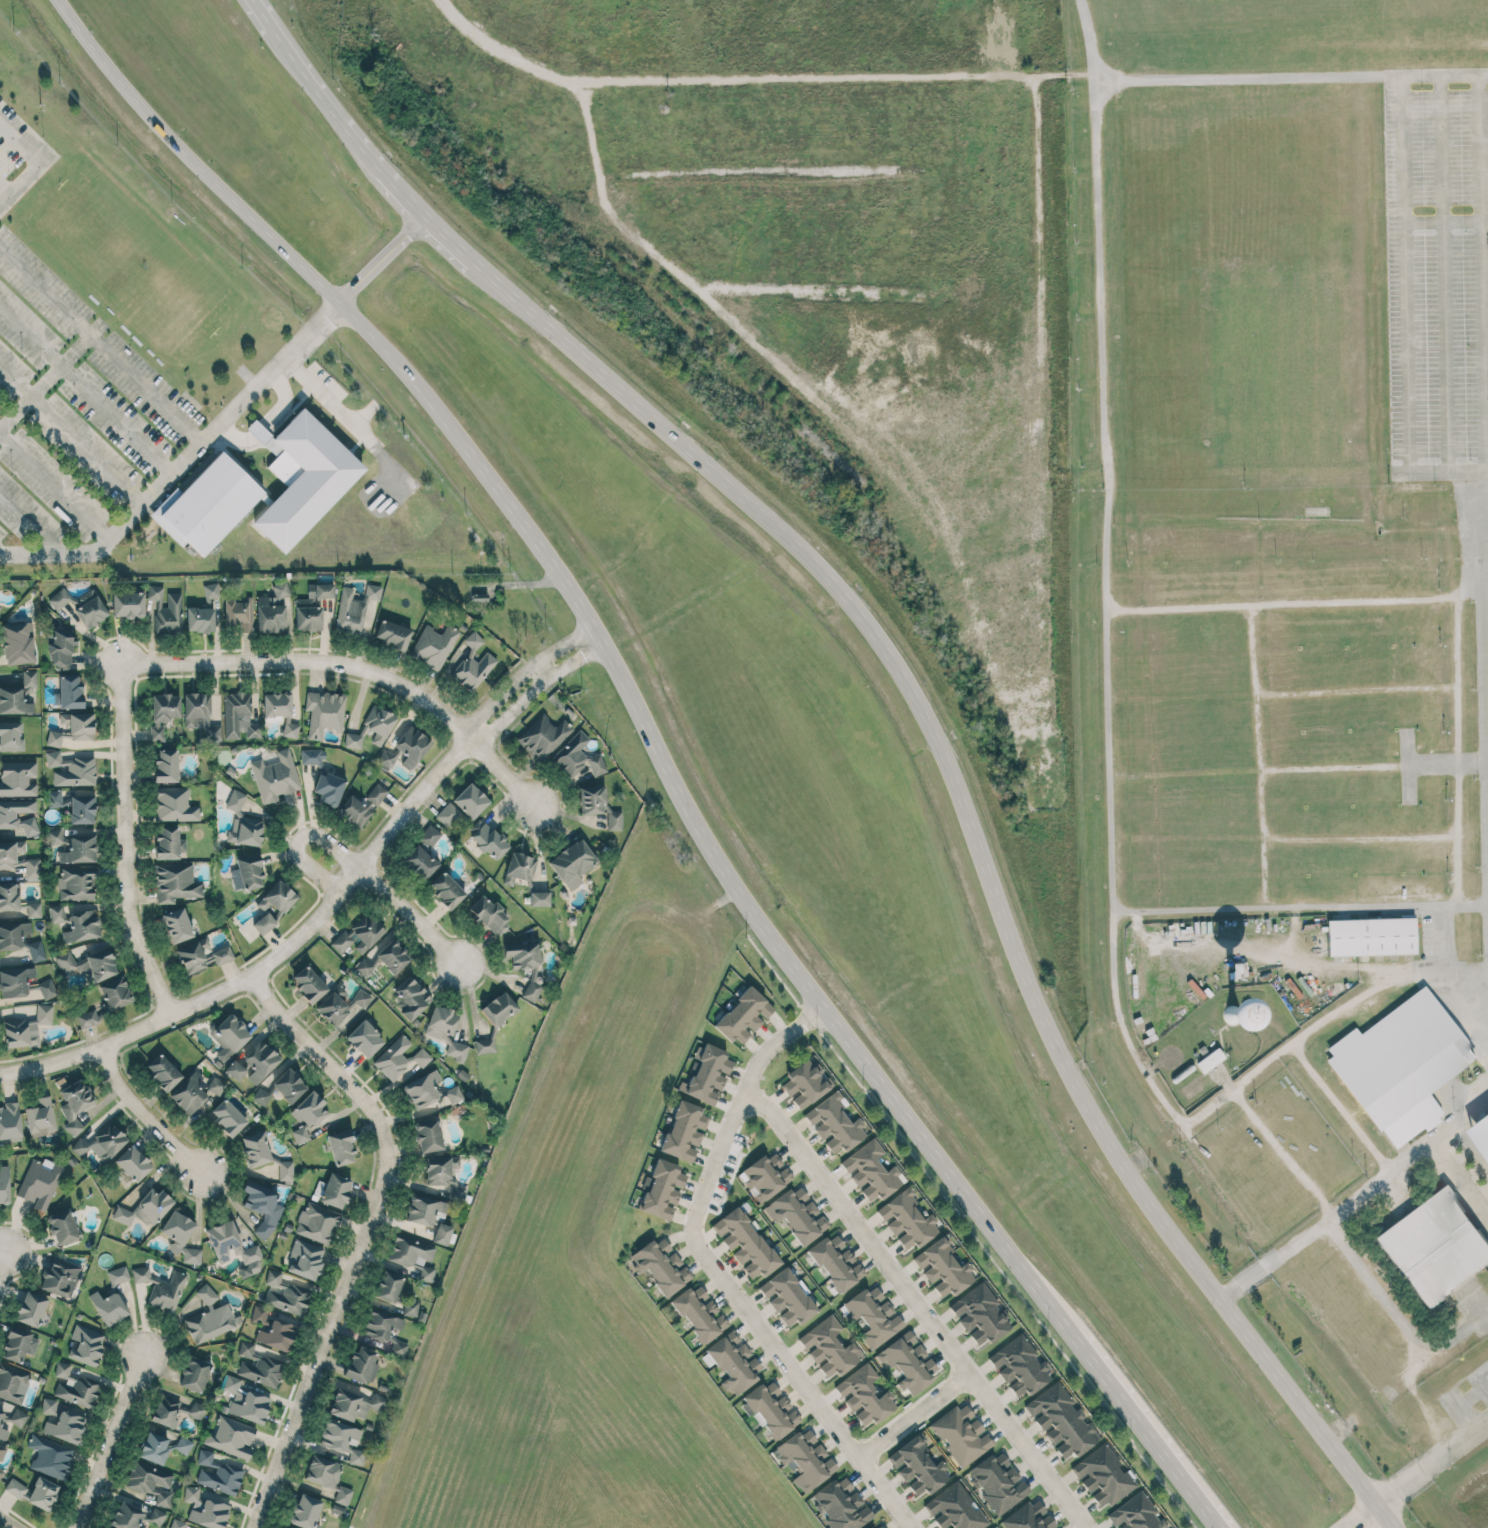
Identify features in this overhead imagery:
road: (443, 11)
road: (266, 14)
road: (1090, 40)
road: (298, 60)
road: (764, 86)
road: (350, 132)
road: (34, 163)
road: (404, 193)
road: (1445, 221)
road: (444, 235)
road: (379, 257)
parking lot: (1439, 257)
road: (1480, 271)
road: (1445, 272)
road: (1405, 311)
road: (100, 342)
road: (45, 379)
road: (86, 387)
road: (328, 398)
parking lot: (73, 411)
road: (1107, 414)
road: (268, 420)
road: (70, 434)
road: (182, 458)
building: (302, 477)
road: (53, 485)
building: (207, 505)
road: (33, 523)
road: (1486, 532)
road: (3, 554)
road: (1487, 562)
building: (210, 590)
building: (480, 598)
building: (59, 599)
building: (0, 605)
building: (127, 605)
road: (1299, 605)
building: (312, 607)
building: (88, 609)
building: (272, 609)
building: (354, 609)
building: (167, 611)
building: (239, 613)
building: (200, 619)
building: (392, 634)
road: (600, 638)
building: (18, 643)
building: (433, 646)
building: (61, 648)
building: (473, 663)
road: (353, 666)
road: (525, 669)
road: (538, 672)
road: (537, 686)
road: (1355, 691)
building: (69, 692)
building: (18, 694)
building: (276, 704)
building: (165, 707)
building: (324, 713)
building: (200, 714)
building: (239, 717)
building: (372, 727)
building: (73, 728)
building: (290, 730)
building: (156, 733)
building: (543, 736)
building: (10, 737)
building: (411, 746)
road: (1458, 752)
building: (312, 757)
building: (576, 757)
building: (386, 759)
road: (1259, 759)
building: (165, 765)
road: (1374, 767)
building: (70, 769)
building: (275, 777)
building: (17, 779)
building: (328, 788)
building: (56, 799)
building: (235, 800)
building: (470, 801)
building: (174, 805)
building: (362, 806)
building: (598, 806)
building: (82, 809)
building: (447, 814)
building: (8, 815)
building: (246, 830)
road: (978, 834)
building: (56, 836)
building: (429, 836)
road: (298, 839)
building: (488, 839)
road: (1359, 841)
road: (125, 842)
building: (169, 843)
building: (79, 849)
building: (11, 854)
building: (419, 862)
building: (572, 863)
building: (32, 869)
building: (519, 869)
building: (246, 872)
building: (77, 883)
building: (176, 883)
building: (445, 890)
building: (10, 897)
building: (539, 899)
building: (273, 906)
building: (33, 909)
road: (1303, 909)
building: (56, 914)
road: (408, 915)
building: (489, 916)
building: (177, 925)
building: (82, 926)
building: (12, 935)
building: (358, 935)
building: (1371, 936)
road: (1440, 940)
building: (36, 951)
building: (201, 956)
road: (275, 956)
building: (385, 959)
building: (89, 965)
building: (525, 965)
building: (15, 982)
building: (308, 984)
building: (47, 988)
building: (115, 993)
building: (411, 997)
building: (361, 998)
building: (334, 1004)
building: (498, 1008)
building: (44, 1014)
building: (743, 1016)
building: (1233, 1016)
building: (87, 1019)
road: (1322, 1020)
building: (445, 1031)
building: (20, 1033)
building: (229, 1036)
building: (364, 1039)
building: (484, 1046)
building: (399, 1059)
building: (1209, 1060)
building: (260, 1061)
building: (1400, 1065)
building: (235, 1069)
building: (162, 1072)
building: (707, 1074)
building: (804, 1083)
building: (216, 1085)
building: (289, 1085)
building: (429, 1091)
building: (189, 1093)
building: (261, 1096)
building: (74, 1103)
road: (739, 1104)
road: (1338, 1108)
road: (143, 1115)
building: (307, 1115)
building: (40, 1117)
building: (227, 1118)
building: (10, 1123)
building: (834, 1123)
building: (1481, 1129)
building: (684, 1131)
building: (428, 1135)
building: (107, 1141)
building: (80, 1147)
building: (340, 1148)
building: (255, 1149)
road: (1280, 1152)
road: (1407, 1156)
building: (133, 1163)
building: (439, 1170)
building: (285, 1171)
building: (871, 1171)
road: (1460, 1173)
building: (765, 1176)
building: (40, 1183)
building: (4, 1184)
building: (662, 1189)
building: (335, 1190)
building: (262, 1207)
building: (145, 1208)
building: (425, 1210)
building: (797, 1214)
building: (906, 1220)
building: (317, 1223)
building: (62, 1226)
building: (177, 1230)
road: (359, 1234)
building: (442, 1234)
building: (745, 1243)
building: (1434, 1246)
building: (233, 1248)
building: (409, 1251)
road: (2, 1255)
building: (192, 1255)
building: (305, 1259)
road: (1274, 1259)
building: (836, 1262)
building: (661, 1265)
building: (943, 1268)
building: (426, 1273)
building: (141, 1274)
building: (118, 1275)
building: (60, 1278)
building: (387, 1286)
building: (167, 1292)
building: (285, 1294)
building: (787, 1298)
building: (410, 1306)
building: (108, 1307)
road: (916, 1307)
building: (31, 1309)
building: (699, 1313)
road: (1393, 1313)
building: (979, 1314)
building: (874, 1316)
building: (210, 1317)
building: (380, 1324)
building: (273, 1330)
building: (19, 1344)
building: (85, 1345)
building: (829, 1347)
building: (734, 1361)
building: (908, 1362)
building: (361, 1365)
building: (258, 1366)
building: (1019, 1366)
building: (62, 1369)
building: (194, 1373)
road: (799, 1381)
building: (12, 1383)
building: (78, 1391)
building: (864, 1396)
building: (245, 1401)
road: (1463, 1403)
building: (354, 1404)
building: (49, 1406)
building: (770, 1410)
building: (175, 1411)
road: (911, 1416)
building: (18, 1417)
building: (5, 1421)
building: (1061, 1421)
building: (66, 1427)
road: (1144, 1430)
building: (961, 1434)
building: (338, 1435)
building: (231, 1437)
road: (107, 1442)
building: (162, 1447)
building: (2, 1452)
building: (356, 1456)
building: (50, 1457)
building: (805, 1459)
road: (1433, 1464)
building: (918, 1466)
building: (1, 1470)
building: (218, 1473)
building: (1102, 1476)
building: (327, 1477)
building: (148, 1478)
building: (998, 1482)
building: (15, 1488)
building: (42, 1493)
building: (163, 1498)
building: (841, 1505)
building: (205, 1509)
building: (955, 1509)
building: (305, 1511)
building: (1135, 1514)
building: (136, 1516)
road: (1364, 1516)
road: (1387, 1516)
building: (1030, 1517)
road: (7, 1522)
building: (177, 1523)
building: (880, 1526)
building: (288, 1527)
building: (869, 1527)
building: (993, 1527)

